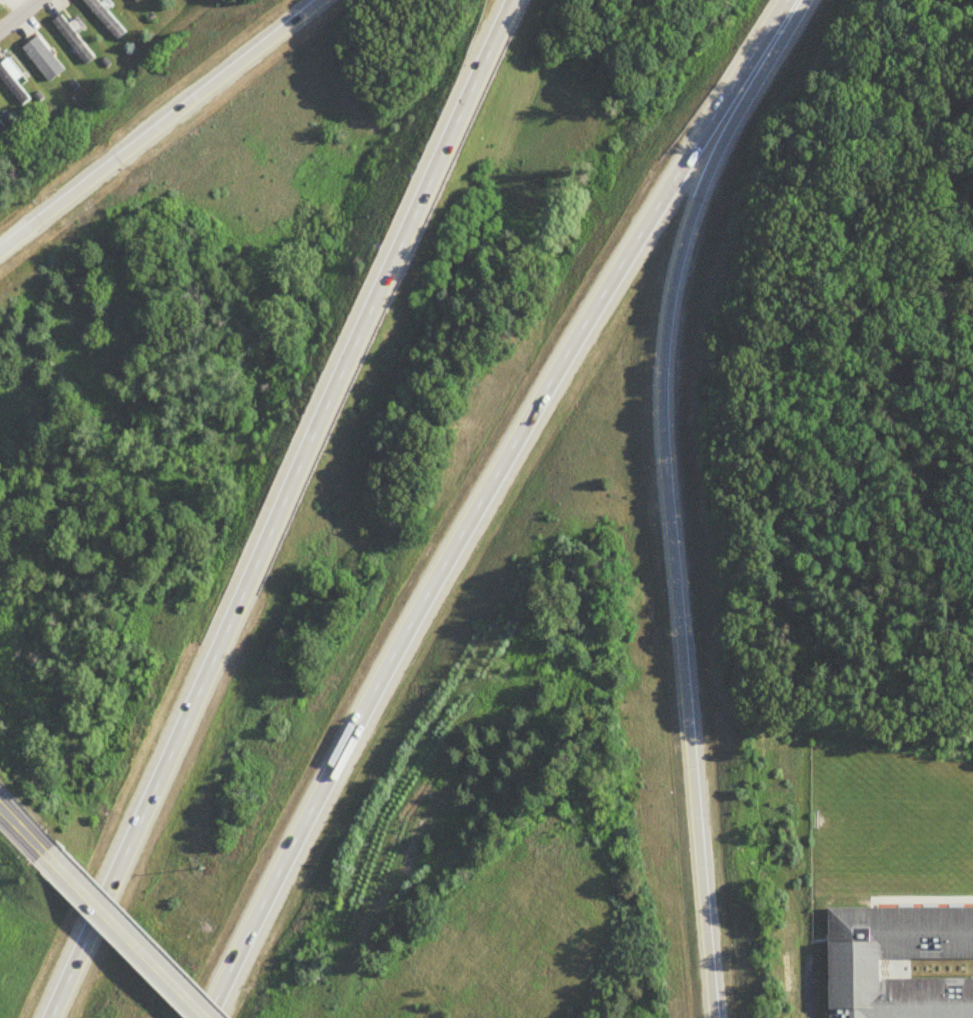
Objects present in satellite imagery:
building: (139, 1)
road: (21, 17)
building: (106, 18)
building: (75, 41)
building: (14, 81)
road: (161, 125)
building: (2, 129)
road: (666, 493)
road: (480, 498)
road: (284, 508)
road: (27, 834)
park: (880, 834)
road: (130, 940)
building: (855, 967)
road: (802, 979)
building: (54, 1002)

